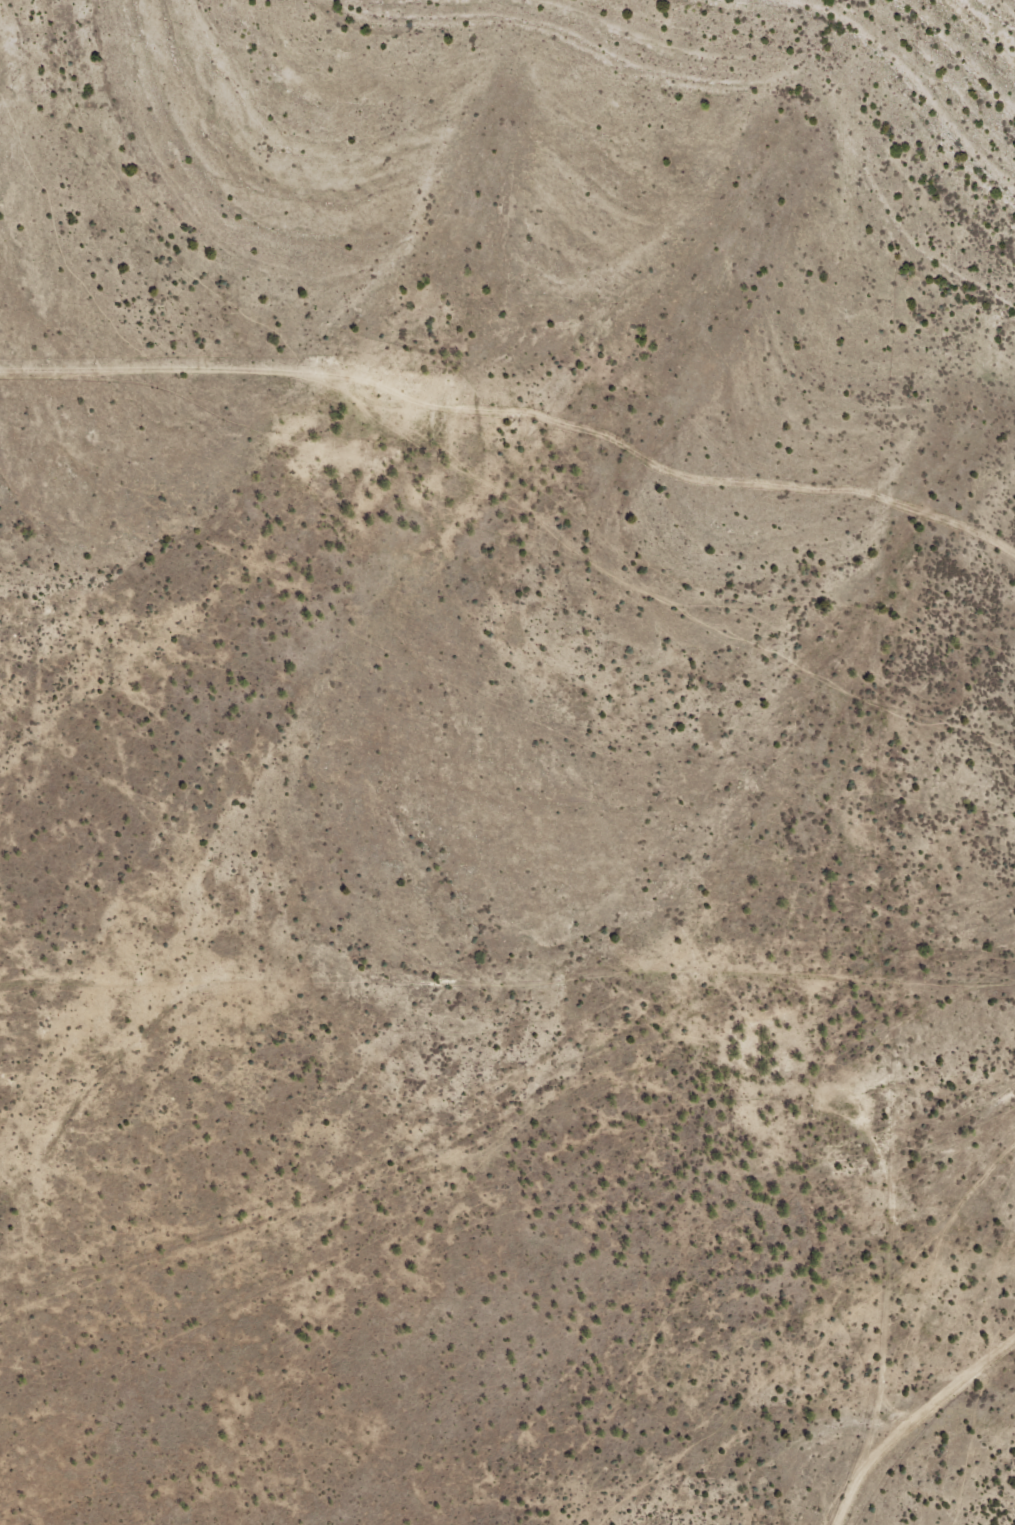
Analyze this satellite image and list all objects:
road: (509, 1004)
road: (71, 1092)
road: (942, 1285)

